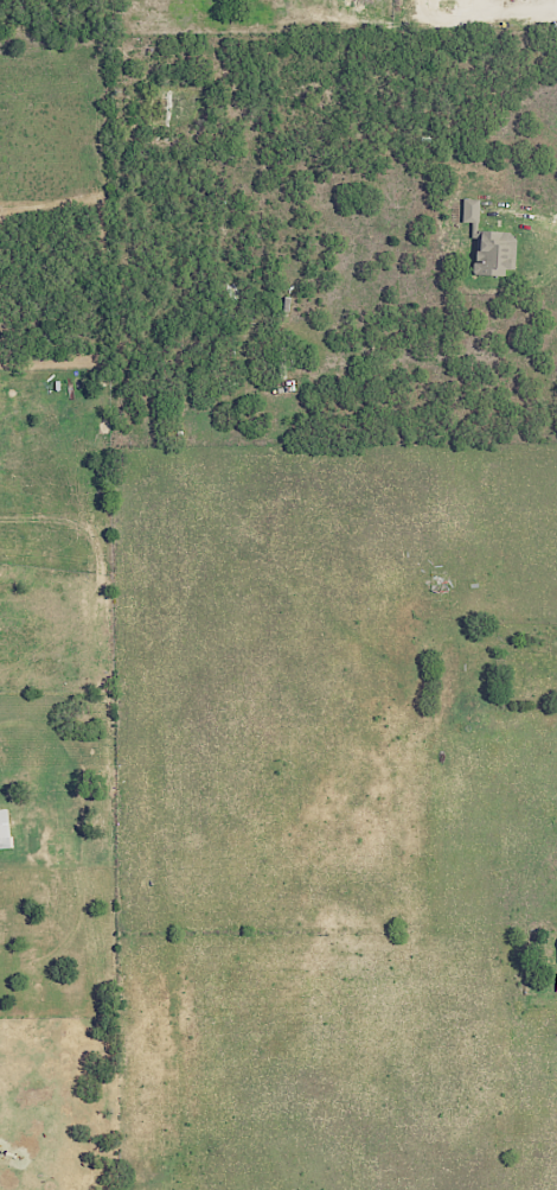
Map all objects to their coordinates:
road: (532, 5)
building: (493, 243)
building: (6, 828)

